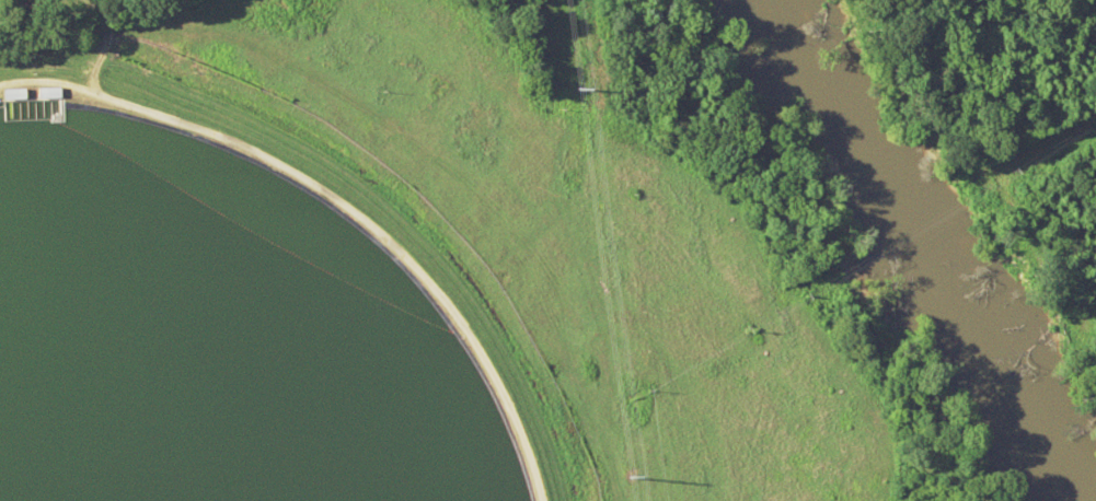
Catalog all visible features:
road: (342, 200)
river: (914, 250)

